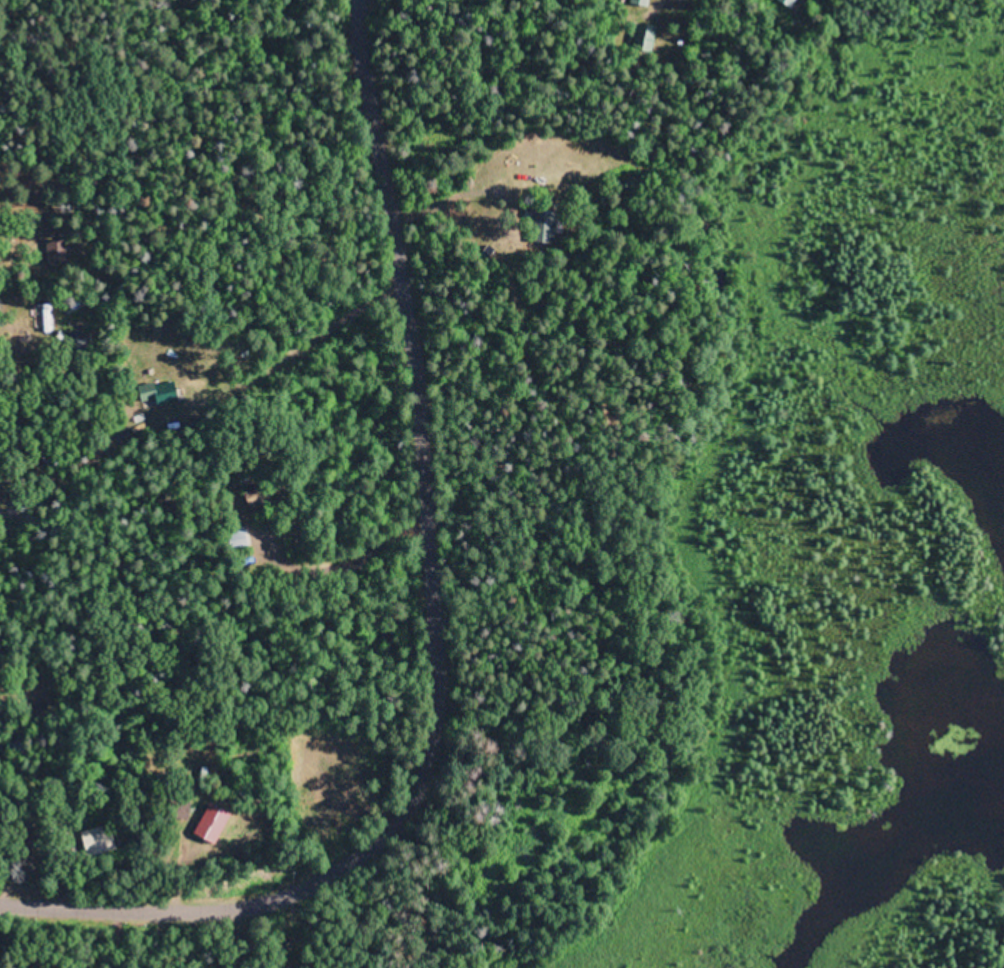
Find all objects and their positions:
building: (535, 236)
road: (445, 623)

